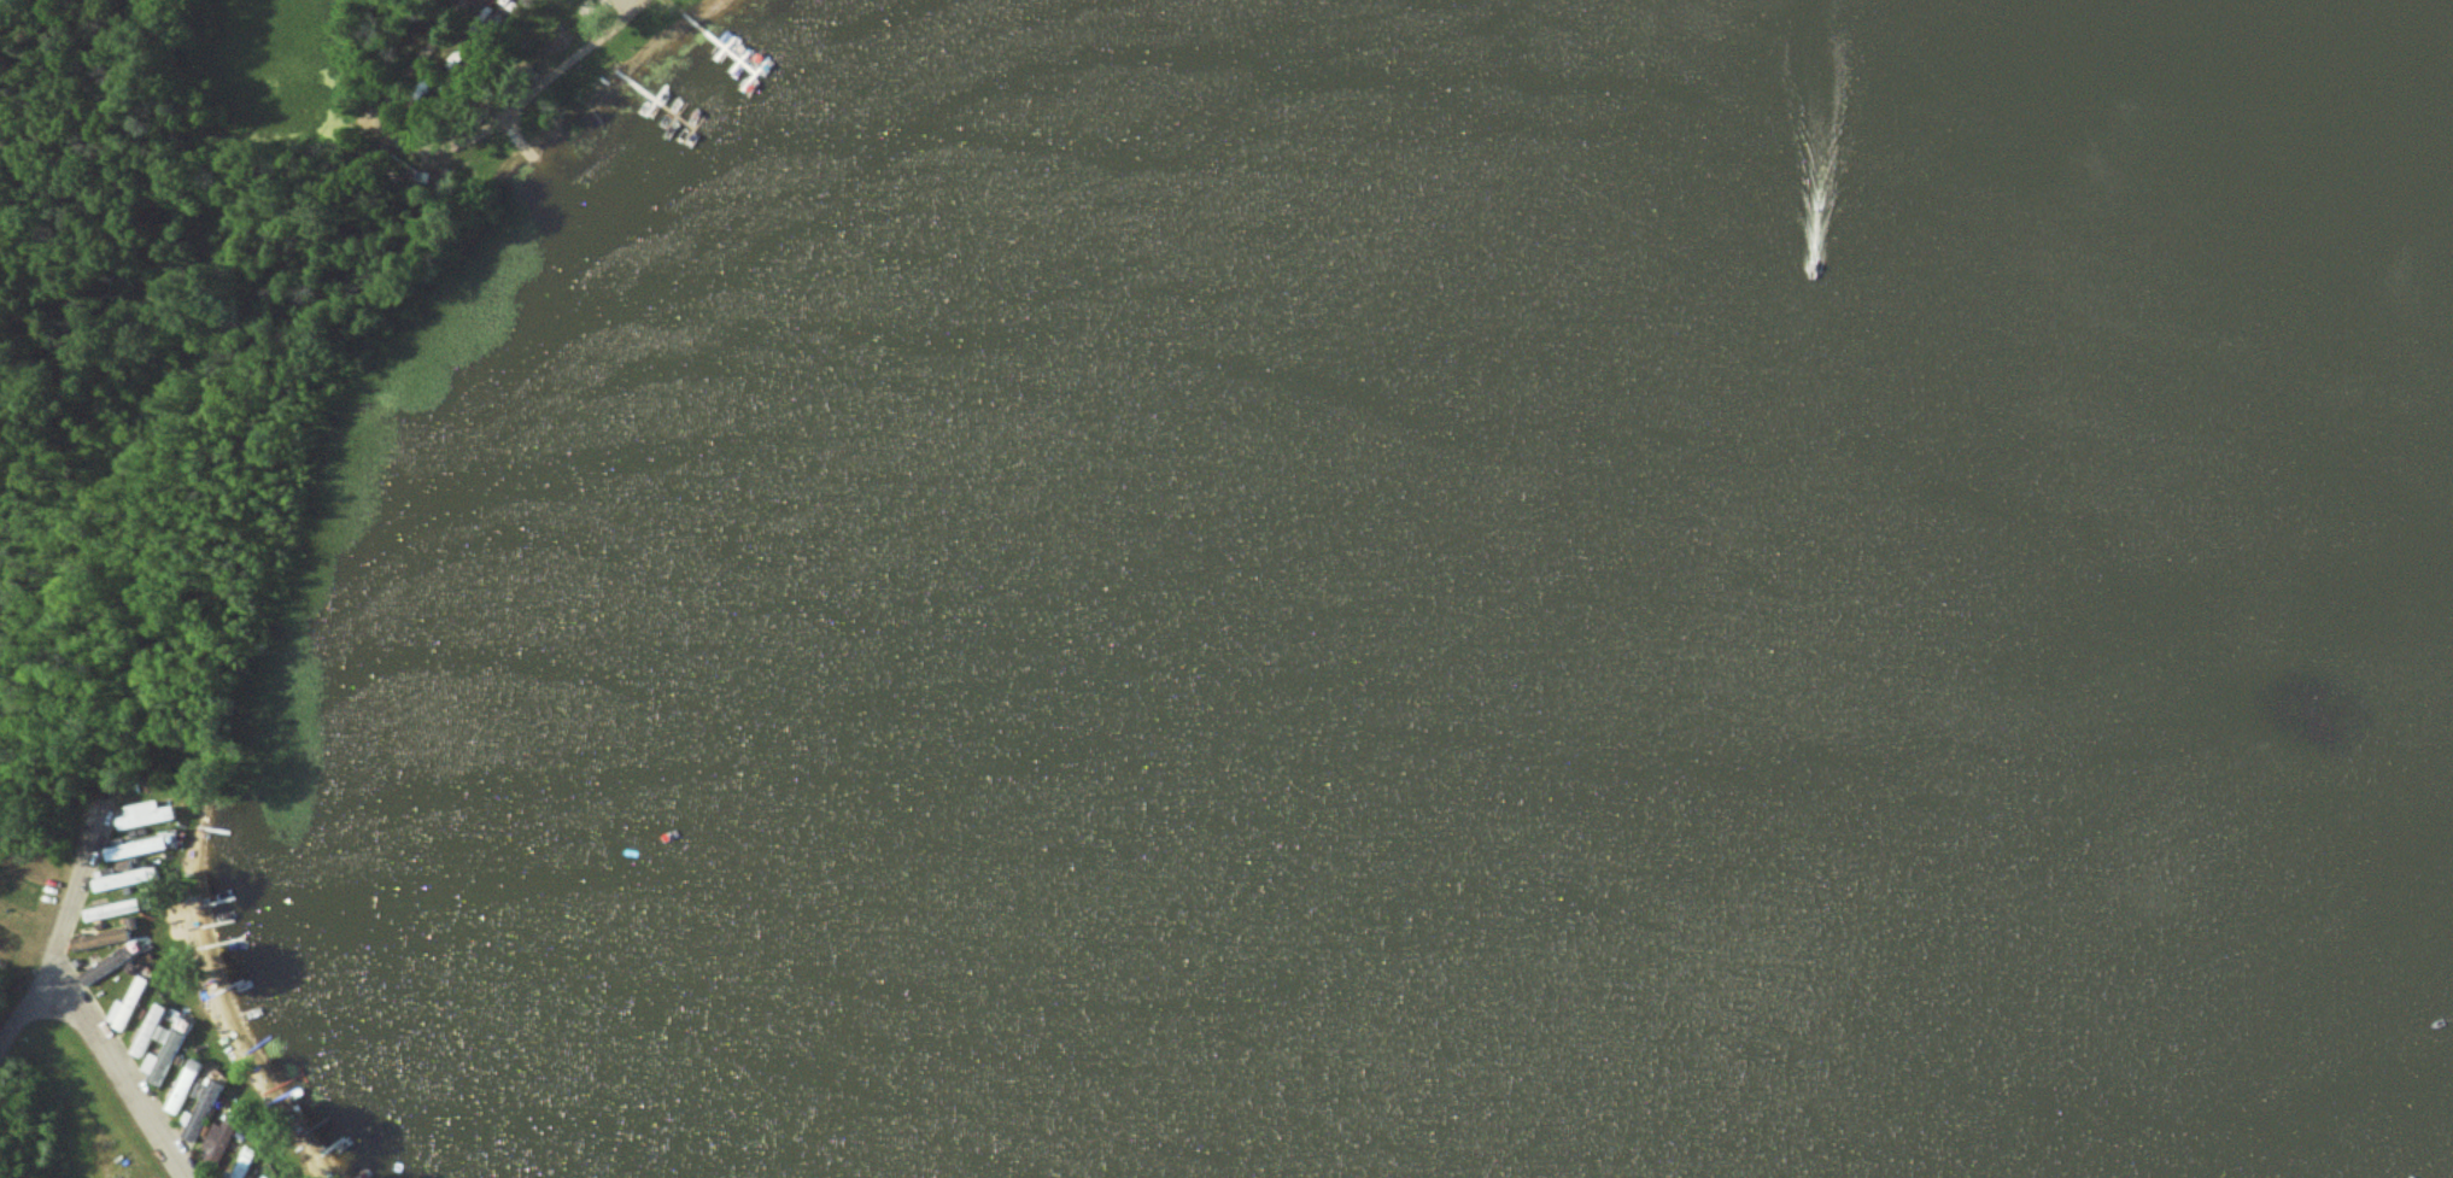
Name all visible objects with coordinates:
road: (455, 143)
building: (152, 814)
building: (139, 848)
building: (127, 865)
building: (125, 878)
road: (80, 893)
building: (118, 909)
building: (105, 937)
building: (110, 963)
building: (130, 1006)
road: (90, 1033)
building: (172, 1047)
building: (187, 1086)
building: (201, 1113)
building: (223, 1141)
building: (251, 1158)
building: (269, 1176)

